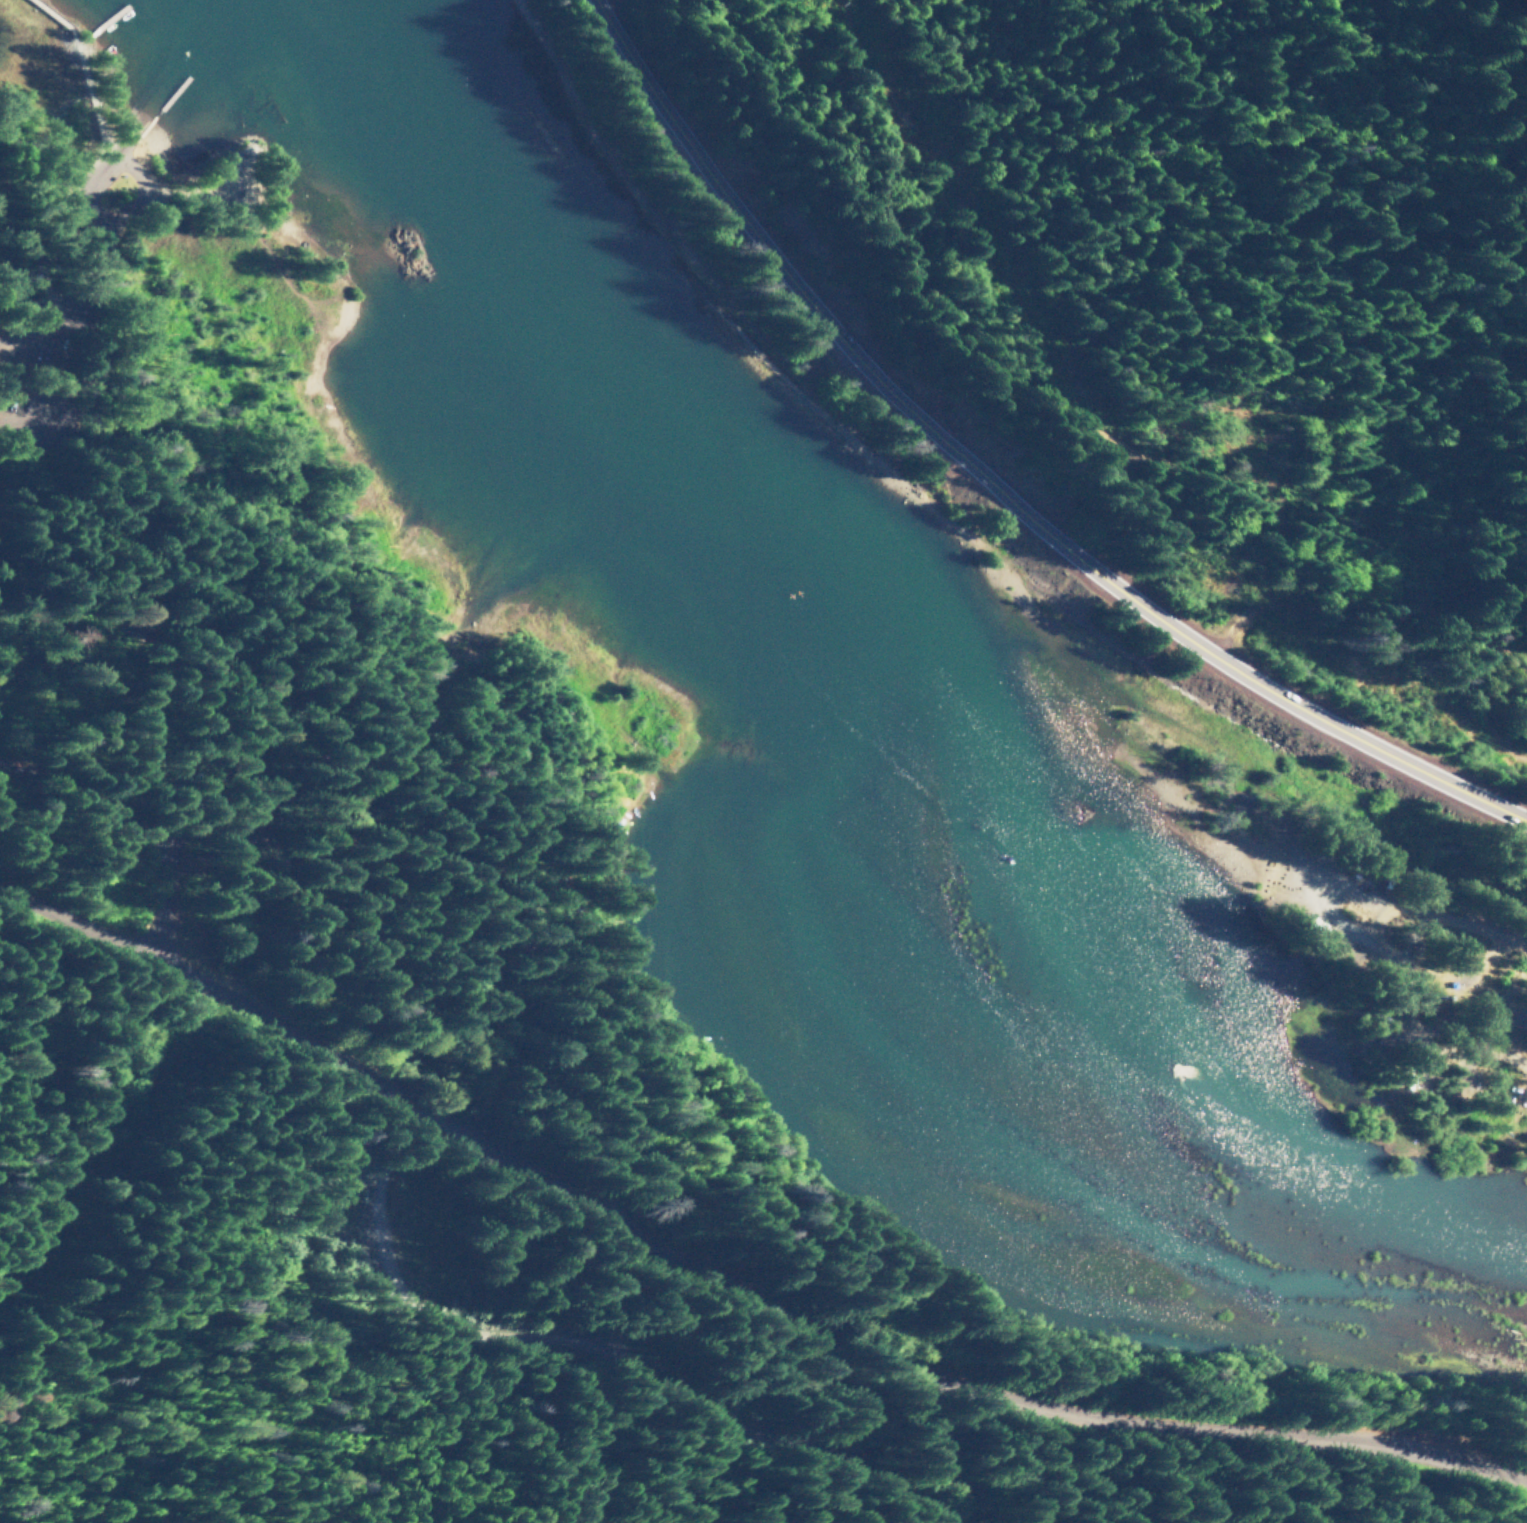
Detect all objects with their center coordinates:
pier: (102, 19)
pier: (176, 95)
road: (139, 194)
road: (101, 231)
parking lot: (32, 329)
road: (840, 343)
river: (609, 359)
road: (75, 376)
parking lot: (37, 419)
road: (1362, 600)
road: (229, 689)
road: (1339, 731)
road: (93, 792)
road: (268, 804)
road: (421, 886)
road: (1373, 897)
road: (1412, 1026)
river: (1132, 1028)
road: (725, 1293)
road: (599, 1366)

